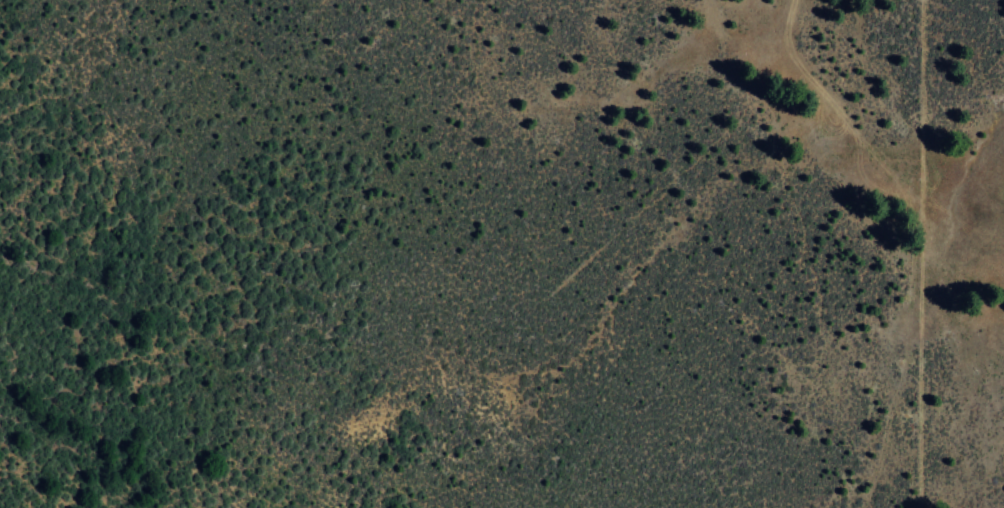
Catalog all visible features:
crop: (976, 316)

